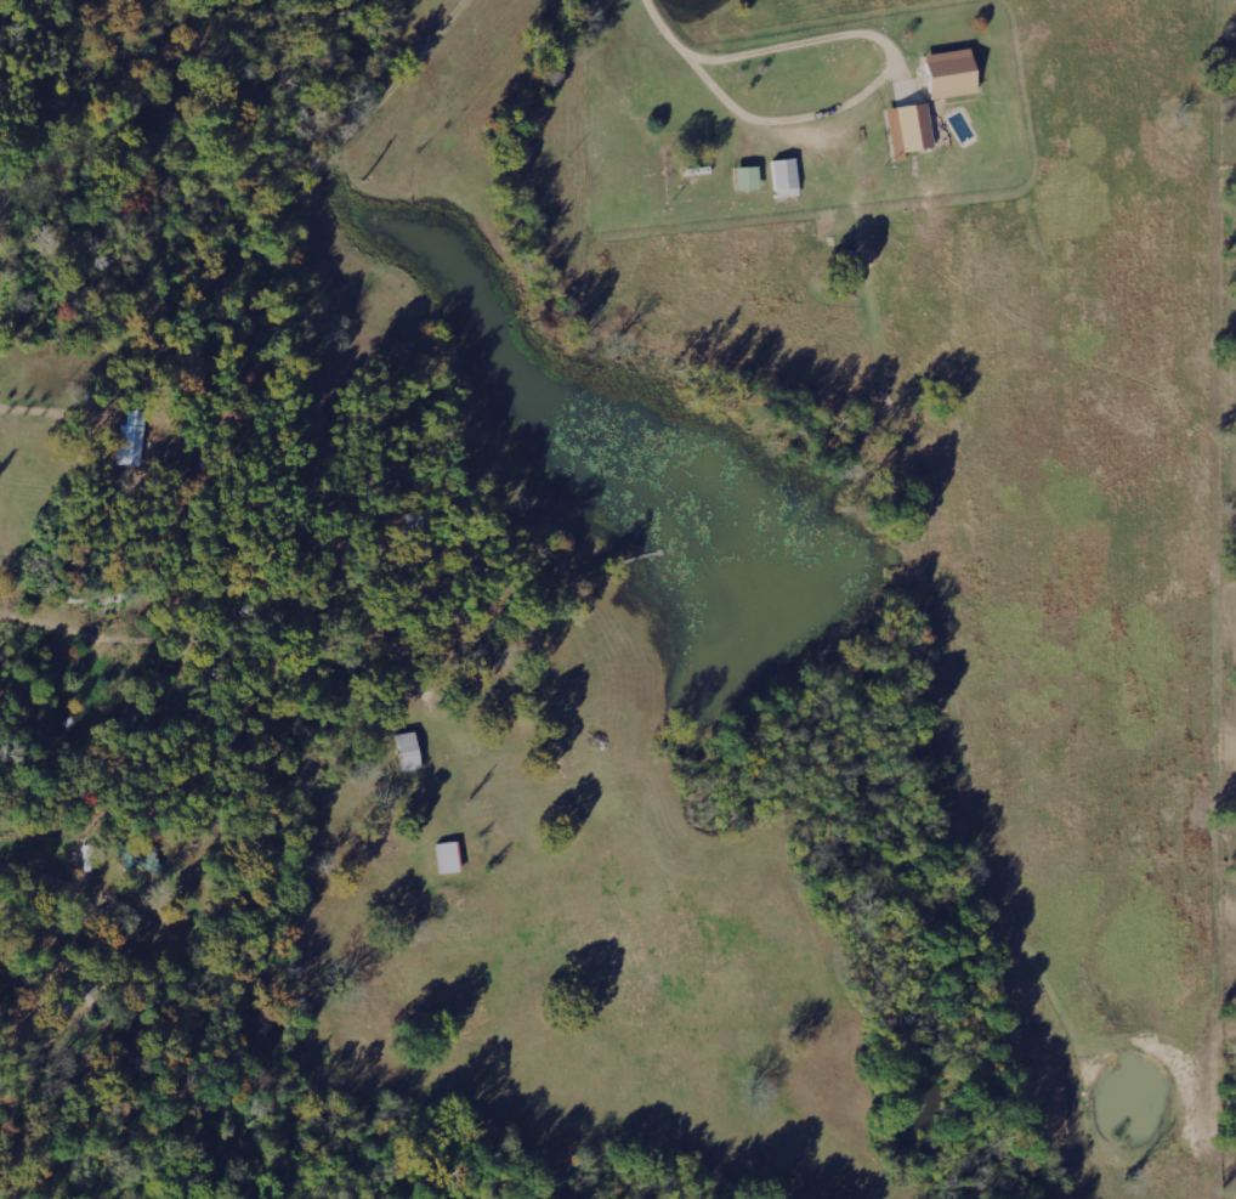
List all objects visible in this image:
building: (952, 73)
building: (909, 129)
road: (18, 157)
building: (748, 177)
building: (786, 177)
building: (409, 750)
building: (449, 856)
building: (137, 858)

